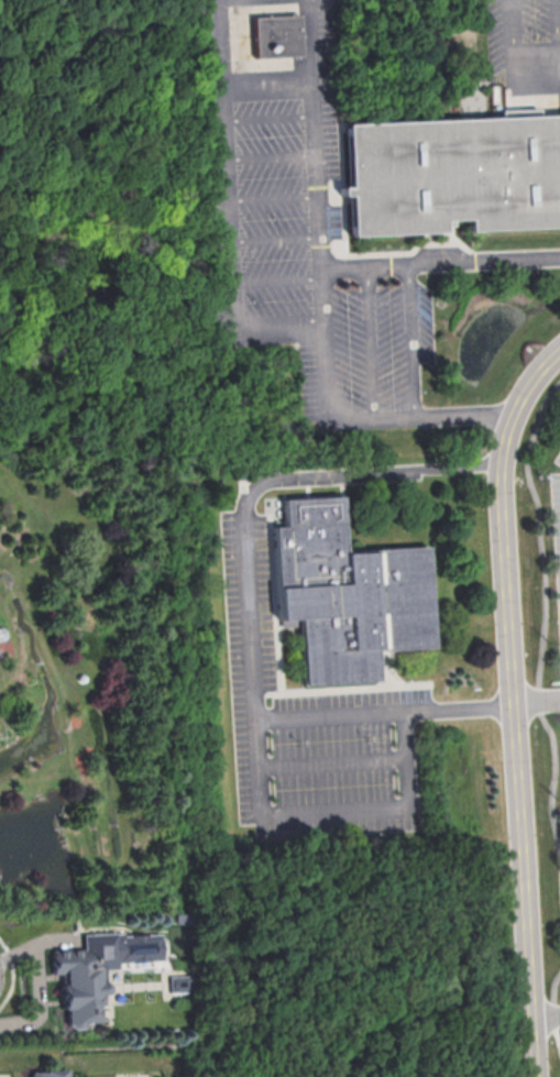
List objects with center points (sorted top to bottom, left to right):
building: (277, 35)
building: (519, 111)
road: (232, 164)
building: (454, 173)
road: (439, 262)
road: (320, 299)
road: (283, 327)
fountain: (486, 336)
road: (394, 470)
road: (249, 584)
building: (348, 592)
road: (537, 700)
road: (514, 705)
road: (384, 711)
road: (332, 760)
road: (333, 809)
building: (98, 969)
road: (546, 1013)
building: (48, 1073)

